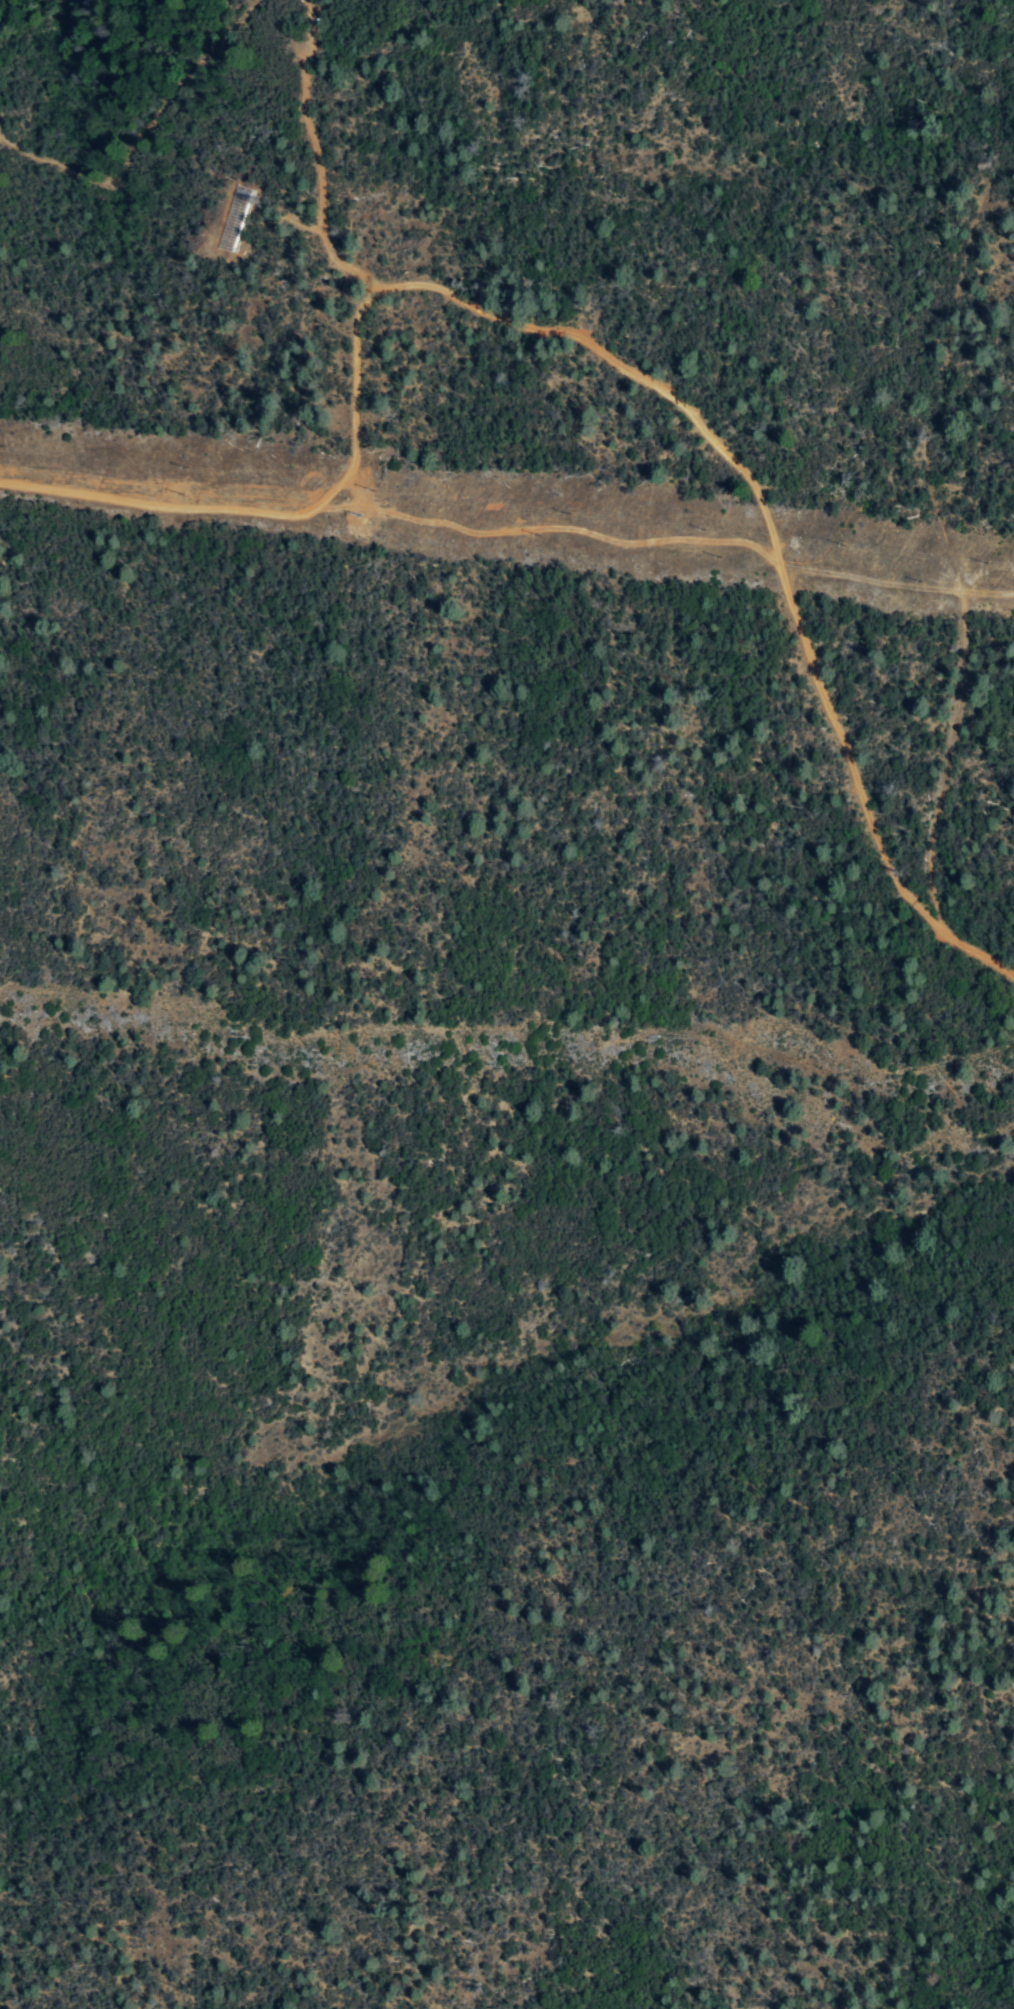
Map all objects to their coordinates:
road: (597, 354)

